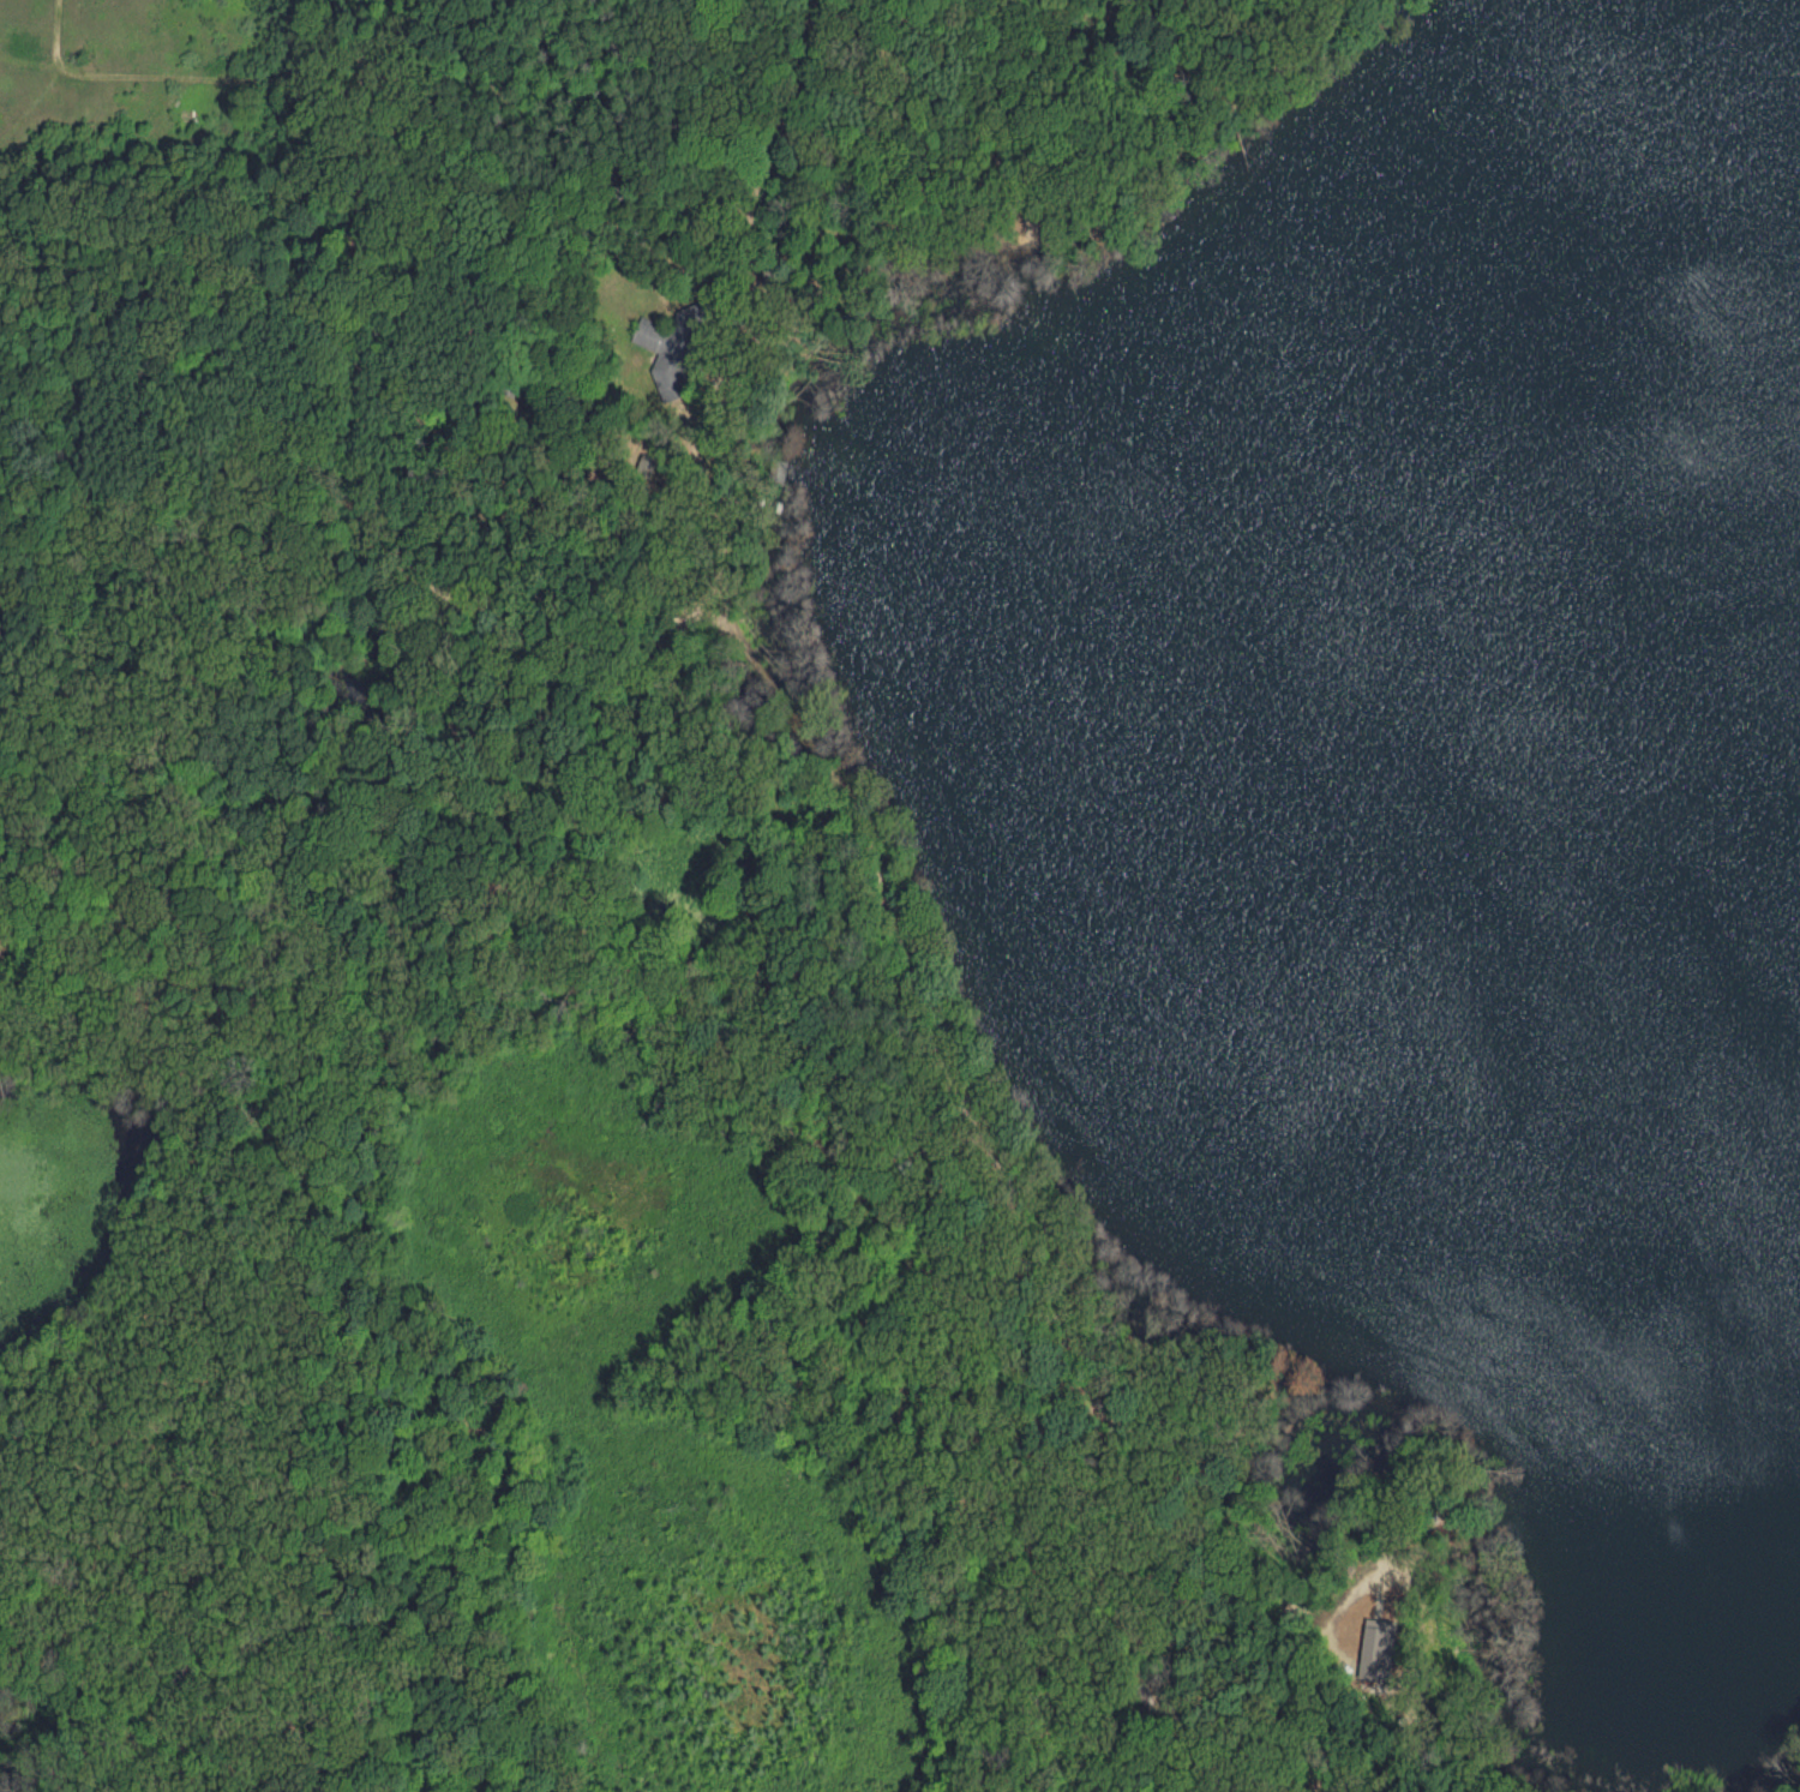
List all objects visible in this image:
road: (1164, 55)
building: (667, 354)
road: (358, 454)
road: (854, 807)
building: (1376, 1647)

